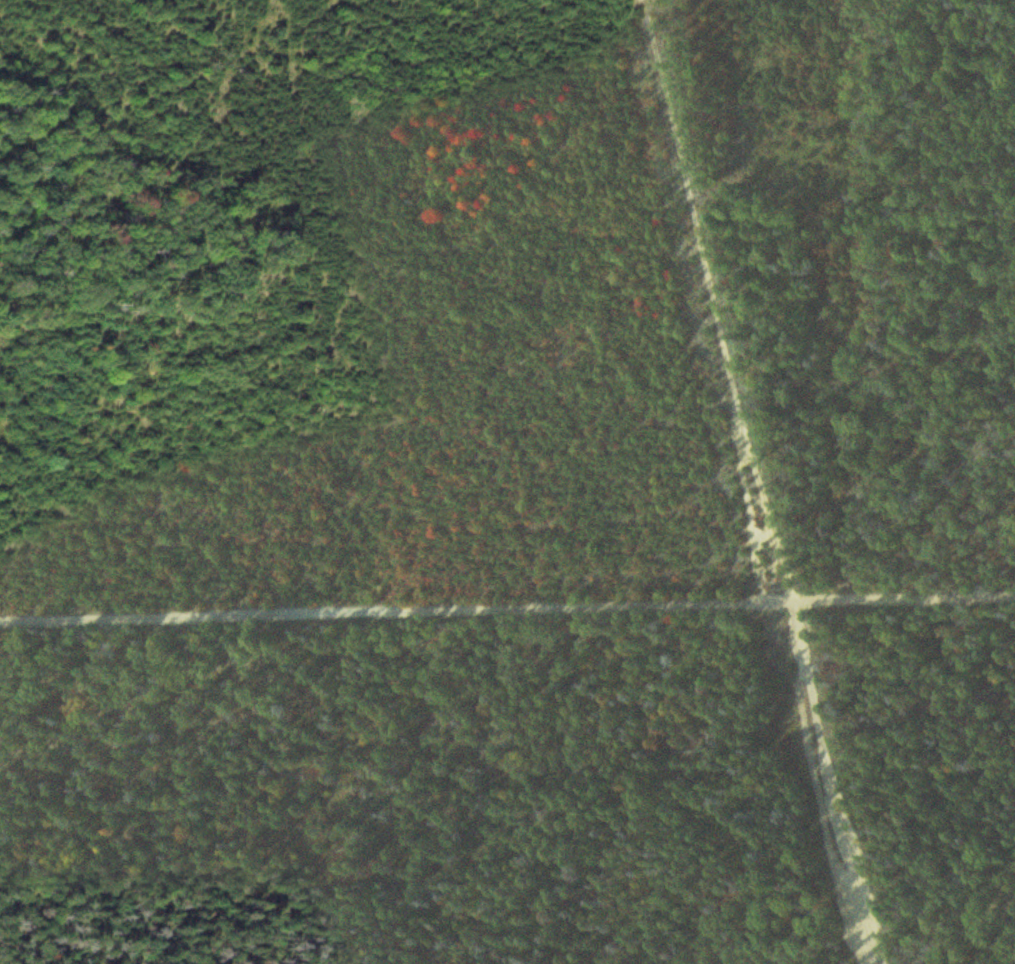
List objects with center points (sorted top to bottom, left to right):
road: (760, 482)
road: (507, 607)
road: (573, 829)

